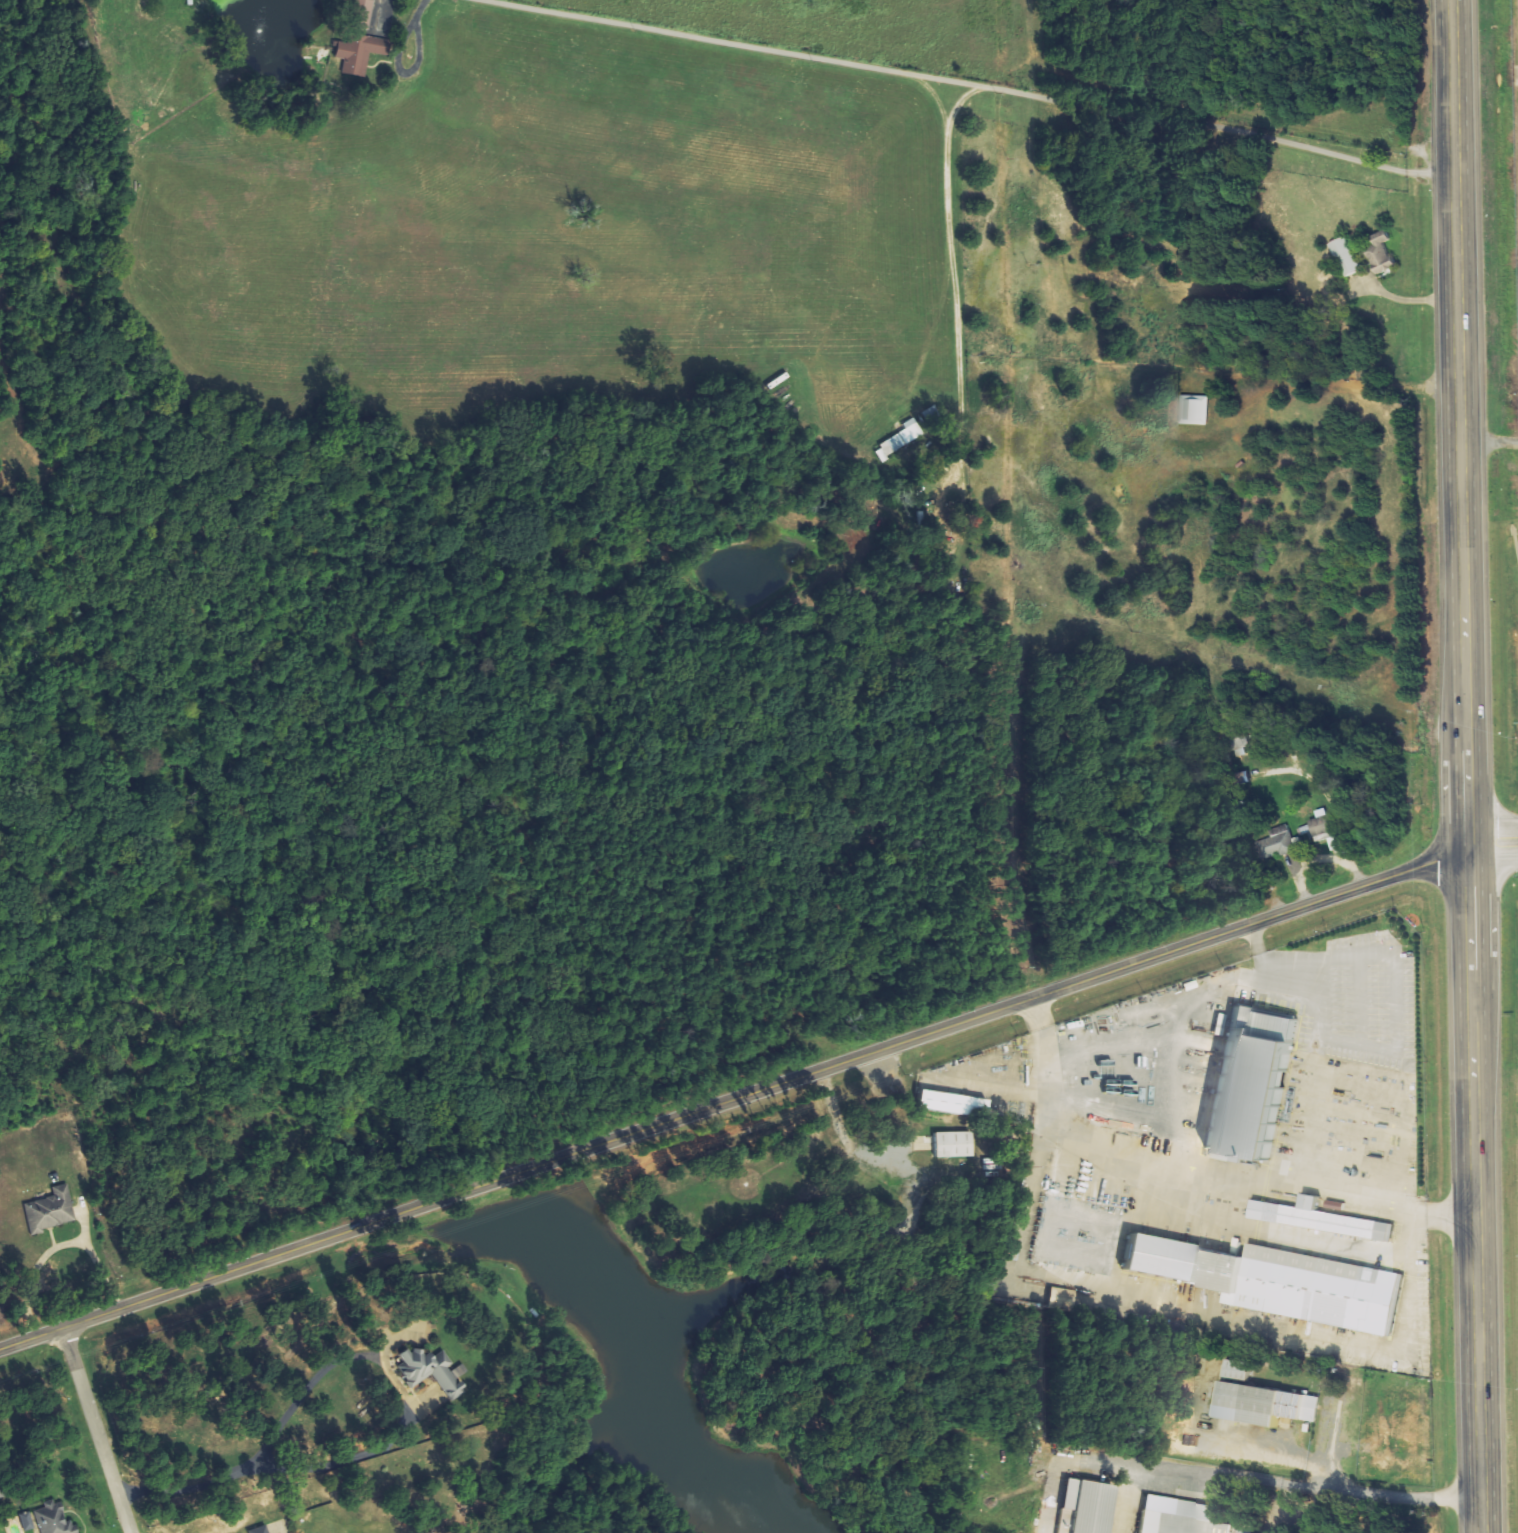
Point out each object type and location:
building: (363, 50)
airport: (1515, 104)
building: (1384, 252)
building: (1350, 258)
building: (1241, 738)
road: (1467, 766)
building: (1324, 826)
road: (1493, 826)
building: (1277, 843)
road: (1494, 859)
building: (1251, 1081)
road: (733, 1099)
building: (952, 1102)
building: (947, 1144)
road: (1200, 1172)
dam: (500, 1198)
building: (49, 1210)
building: (1320, 1216)
building: (1279, 1279)
building: (1056, 1297)
building: (1236, 1368)
building: (428, 1370)
building: (1267, 1401)
road: (97, 1430)
building: (1083, 1506)
building: (1184, 1517)
building: (52, 1519)
building: (29, 1521)
building: (256, 1530)

